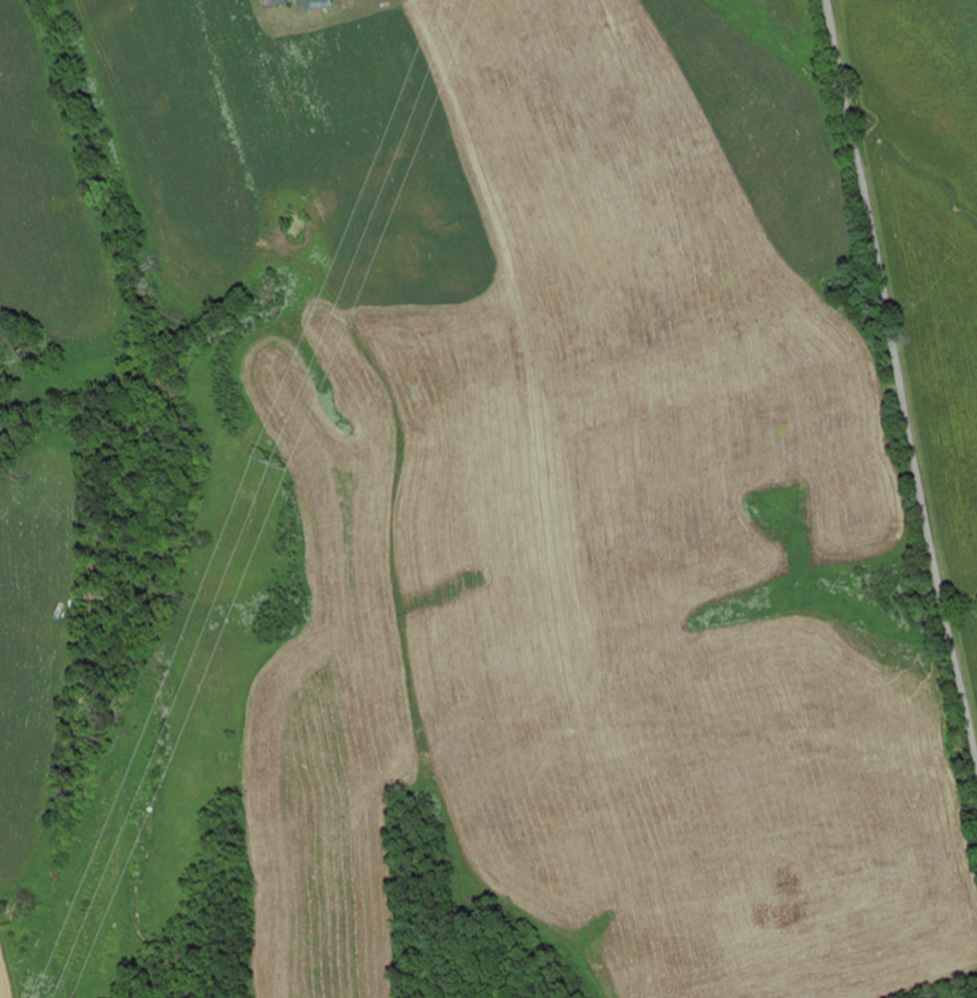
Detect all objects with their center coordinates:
building: (271, 3)
building: (309, 4)
road: (900, 384)
power tower: (265, 462)

